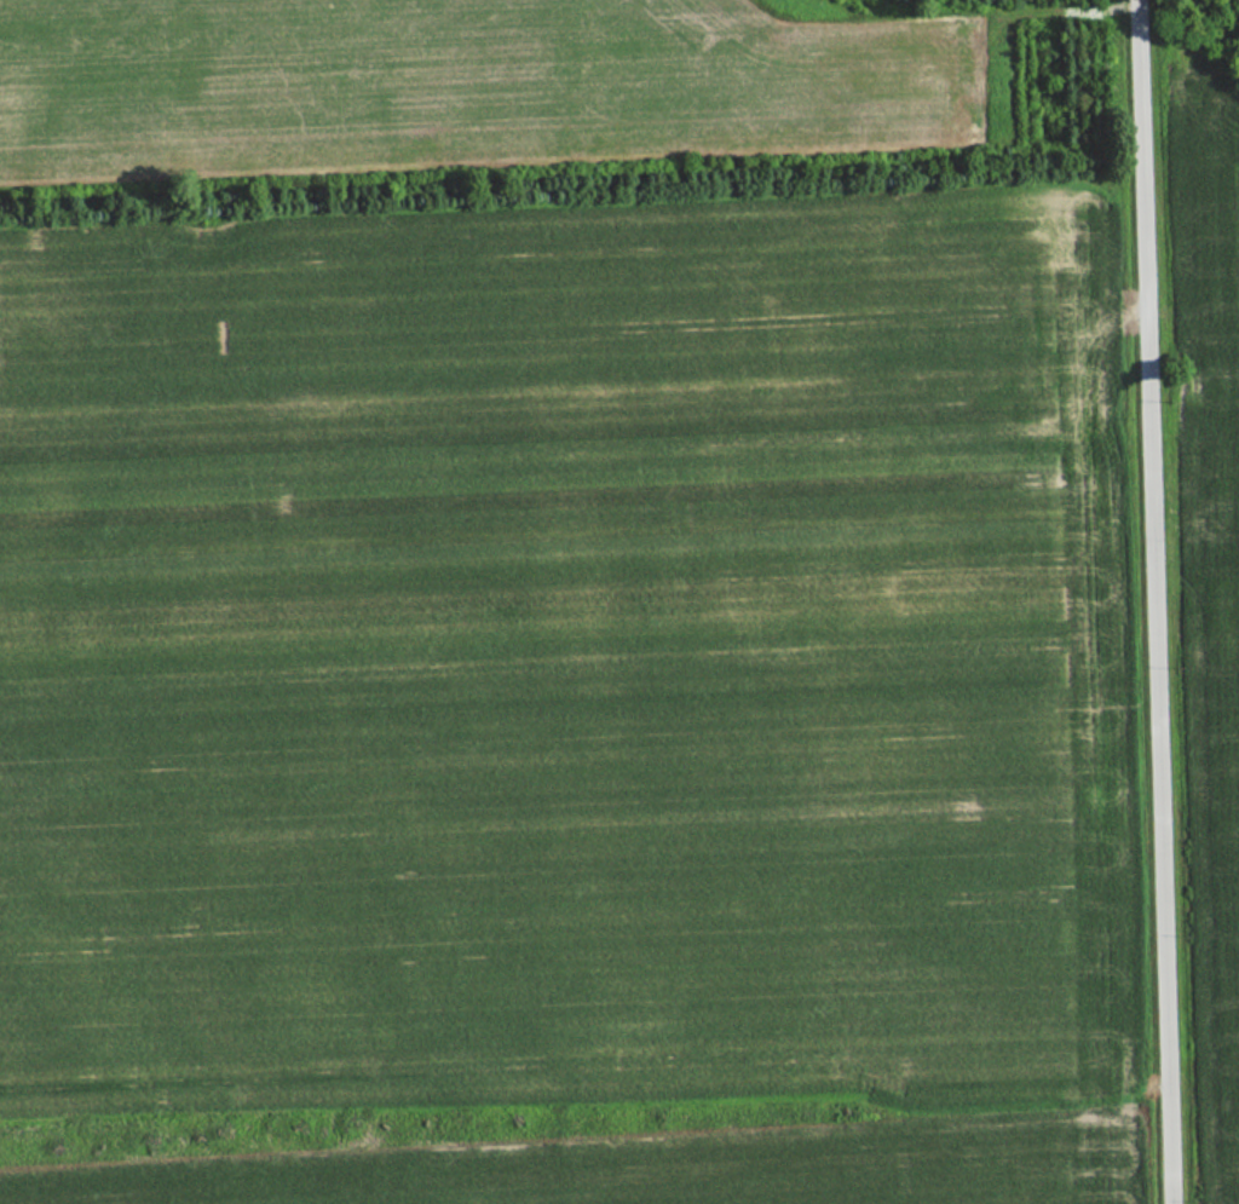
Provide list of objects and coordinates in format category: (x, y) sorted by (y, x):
road: (1153, 601)

